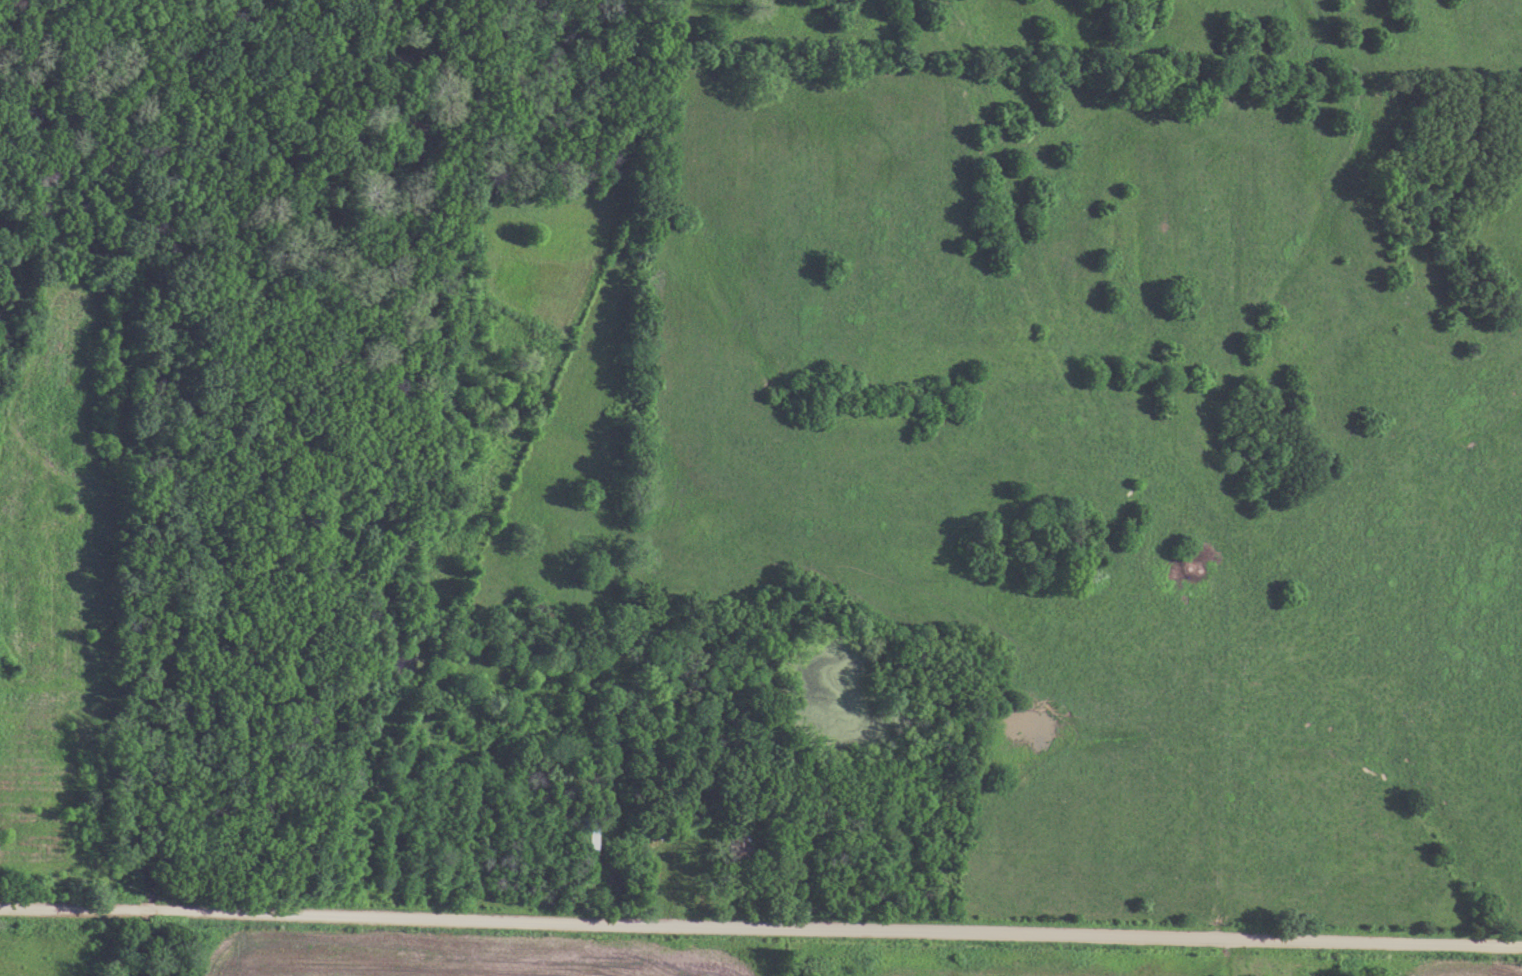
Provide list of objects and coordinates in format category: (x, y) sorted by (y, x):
building: (591, 843)
road: (761, 923)
road: (1226, 957)

